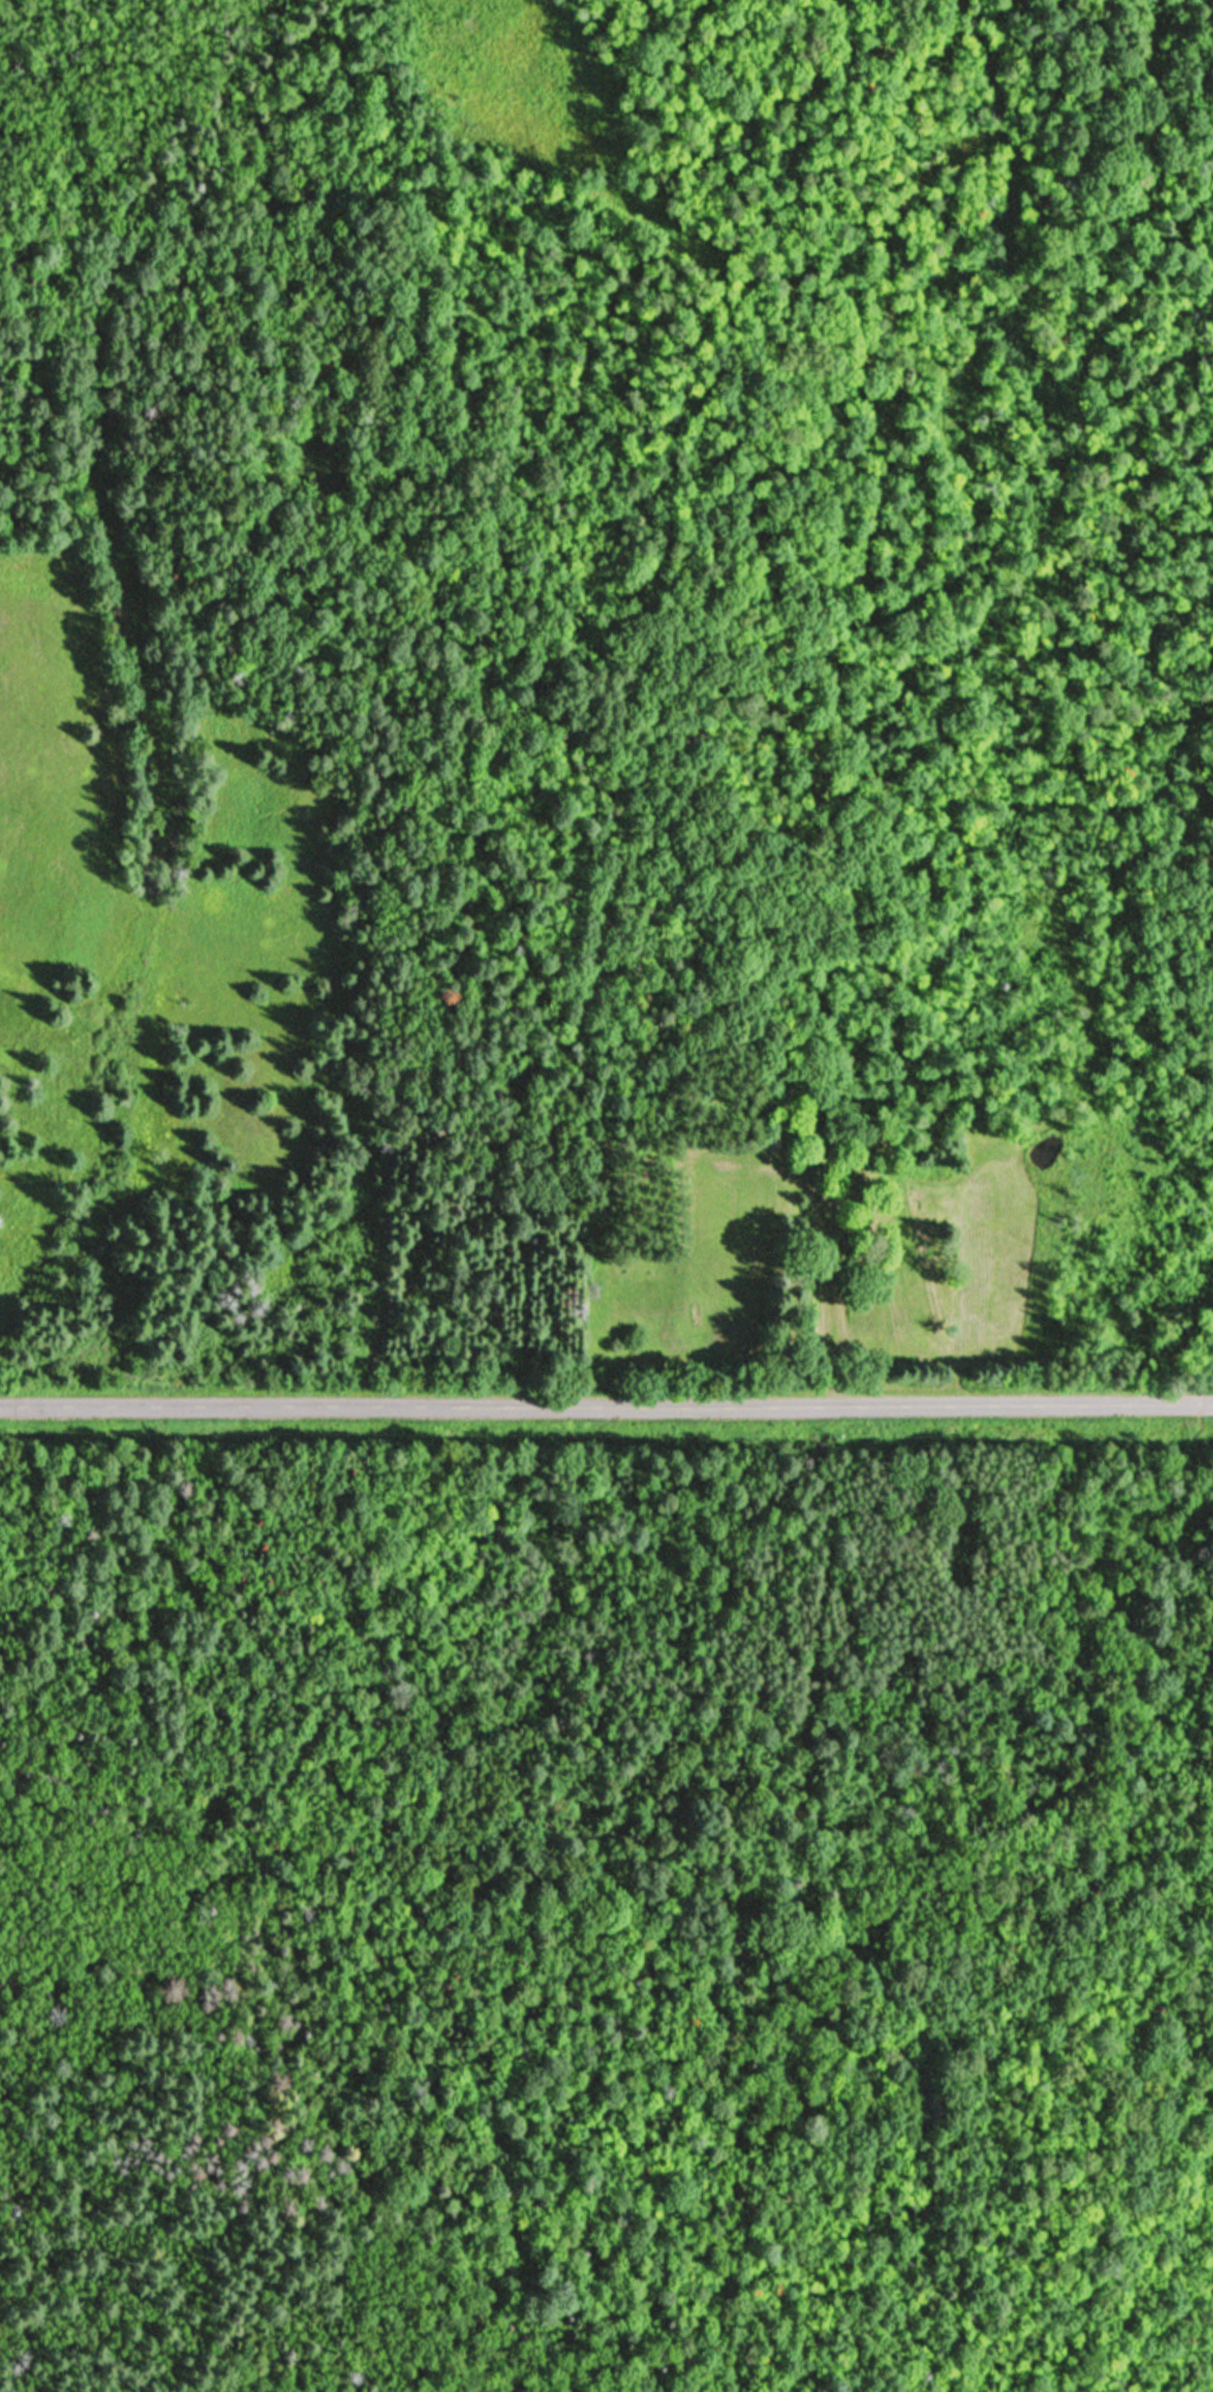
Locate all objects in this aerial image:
road: (606, 1394)
road: (1206, 2383)

